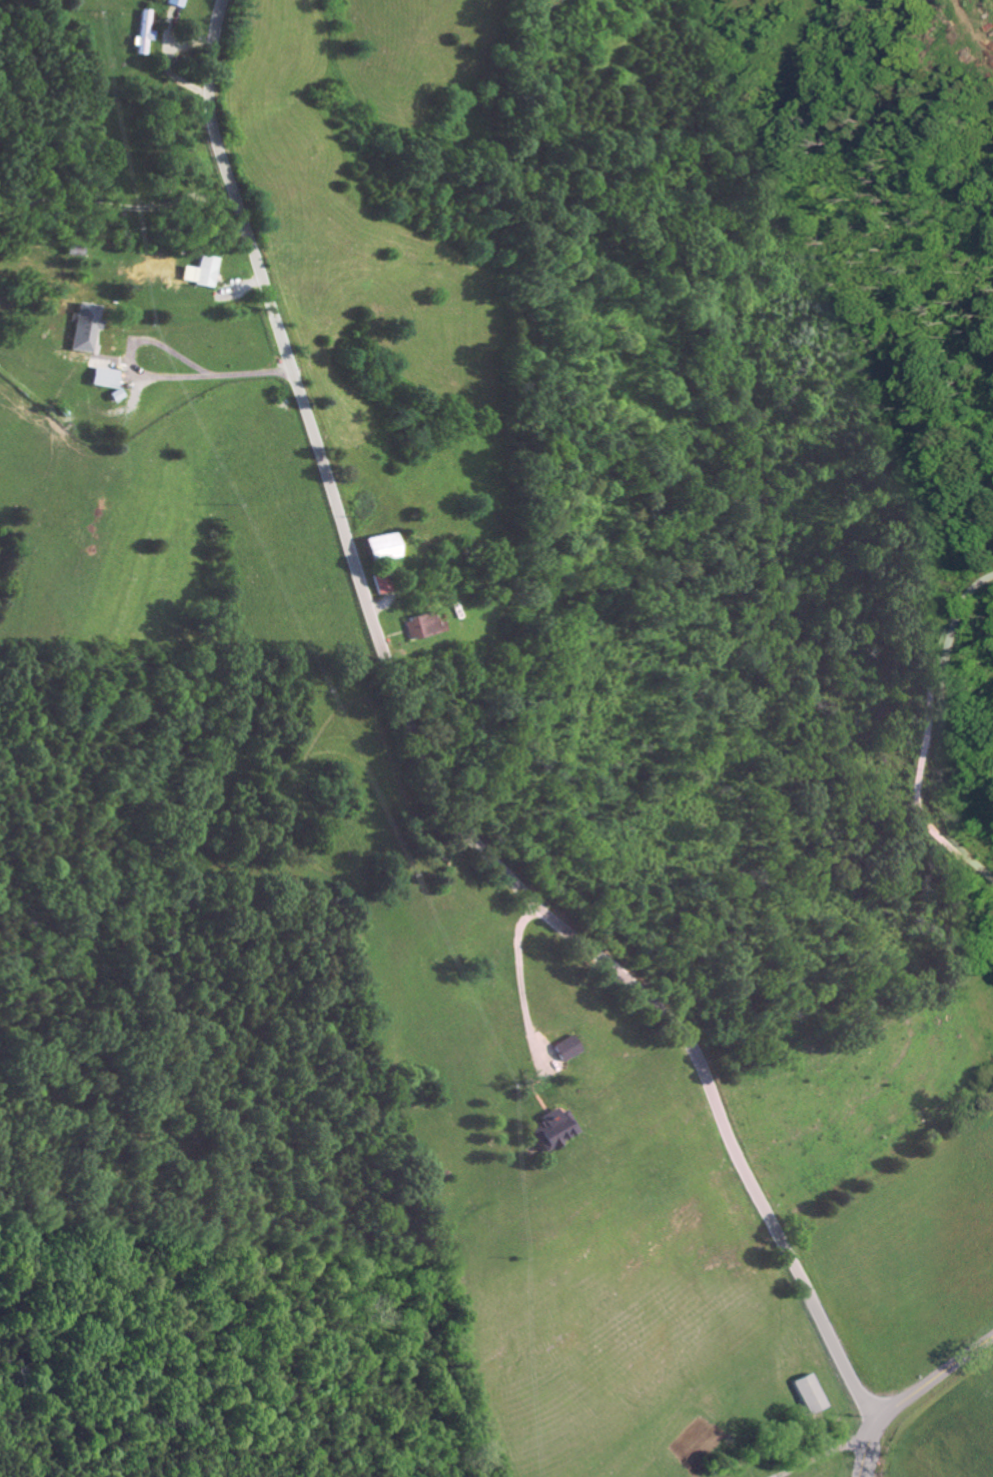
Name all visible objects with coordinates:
building: (178, 2)
building: (144, 32)
building: (84, 333)
road: (200, 375)
building: (107, 377)
building: (383, 545)
building: (381, 581)
building: (423, 624)
road: (928, 734)
road: (422, 773)
road: (519, 979)
building: (558, 1127)
road: (934, 1377)
building: (815, 1392)
road: (866, 1448)
road: (866, 1471)

